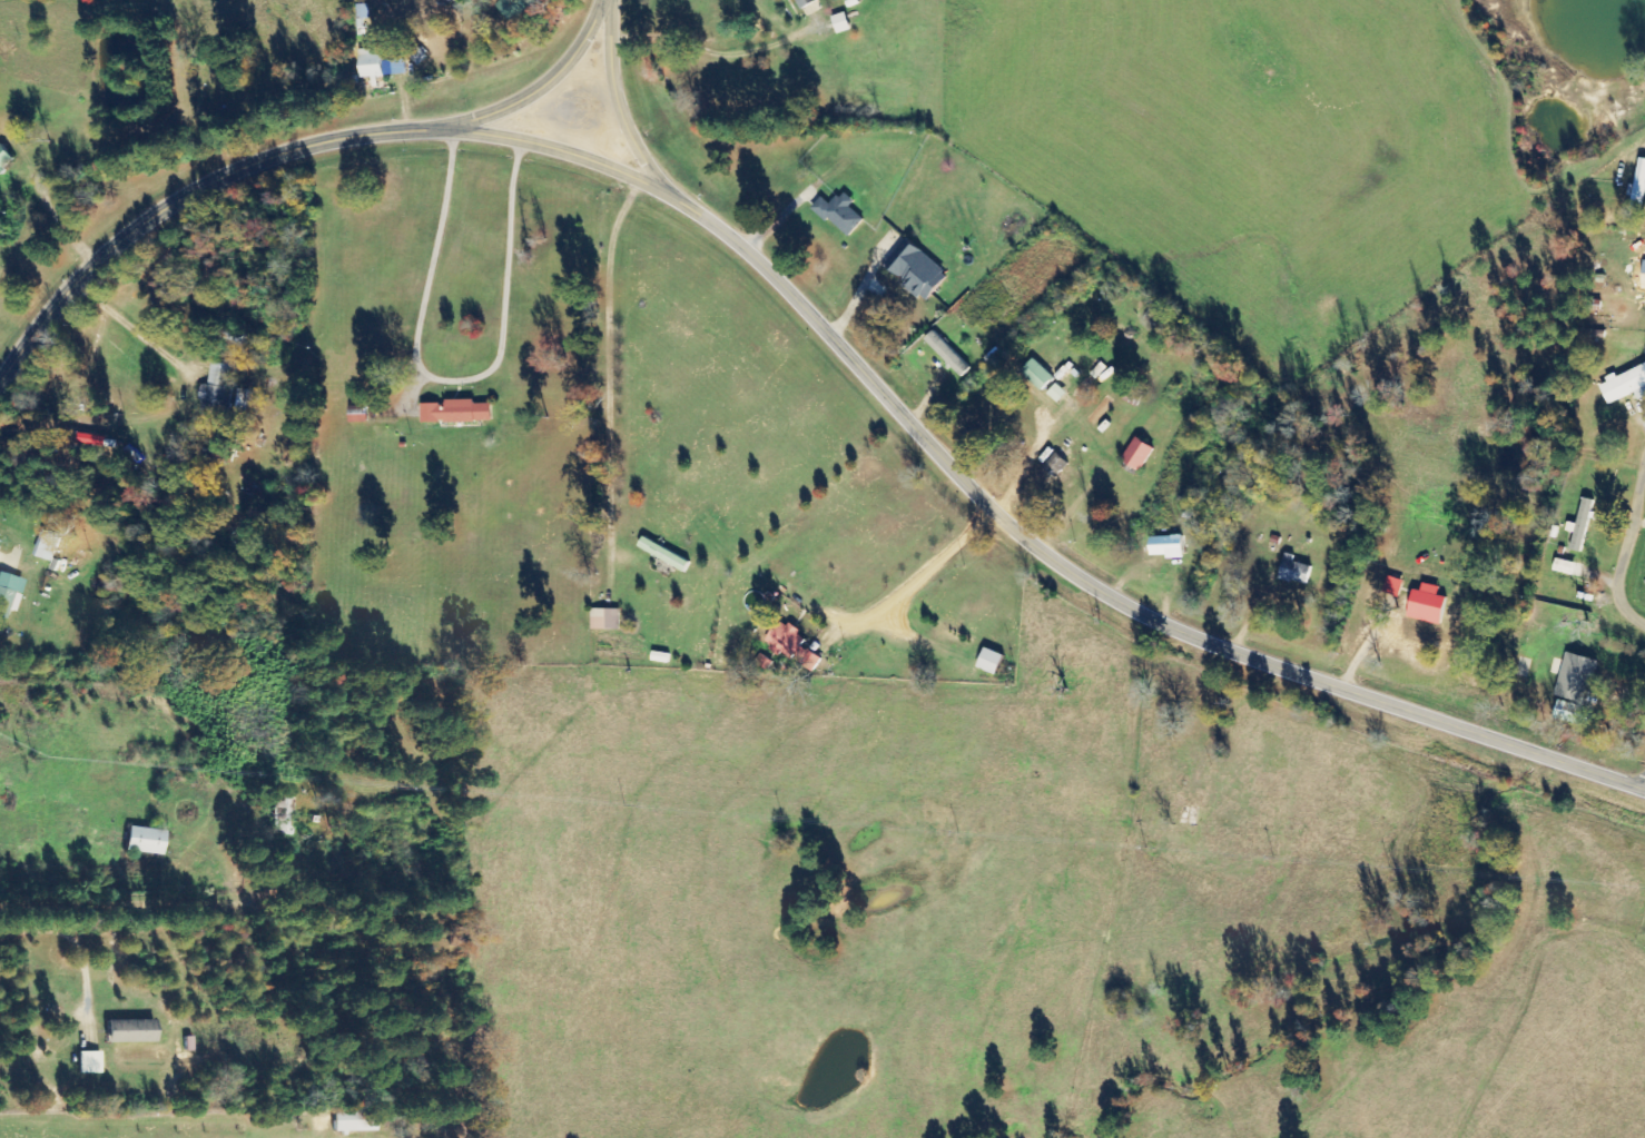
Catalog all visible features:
building: (805, 2)
building: (514, 8)
building: (363, 11)
road: (115, 34)
building: (380, 63)
road: (618, 98)
road: (543, 142)
road: (283, 149)
building: (4, 158)
building: (1638, 187)
building: (840, 212)
building: (916, 269)
building: (947, 354)
building: (1037, 374)
building: (217, 385)
building: (1625, 385)
building: (1056, 393)
building: (456, 412)
building: (358, 415)
building: (1139, 454)
building: (1582, 524)
road: (1625, 543)
building: (47, 546)
building: (1166, 546)
building: (663, 554)
building: (1566, 567)
building: (1294, 571)
road: (1093, 581)
building: (1392, 586)
building: (8, 593)
building: (1427, 605)
building: (605, 619)
building: (792, 645)
building: (991, 661)
building: (1574, 677)
building: (1572, 713)
road: (83, 764)
building: (285, 804)
building: (144, 841)
road: (77, 874)
building: (129, 1031)
building: (88, 1062)
building: (351, 1121)

